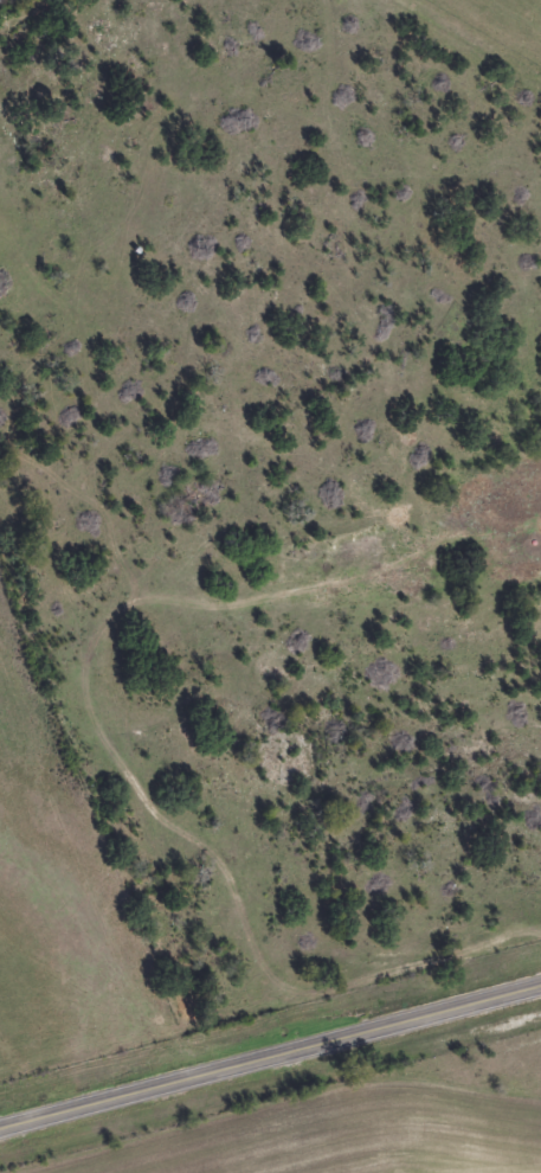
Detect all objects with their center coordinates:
road: (270, 1056)
road: (28, 1147)

